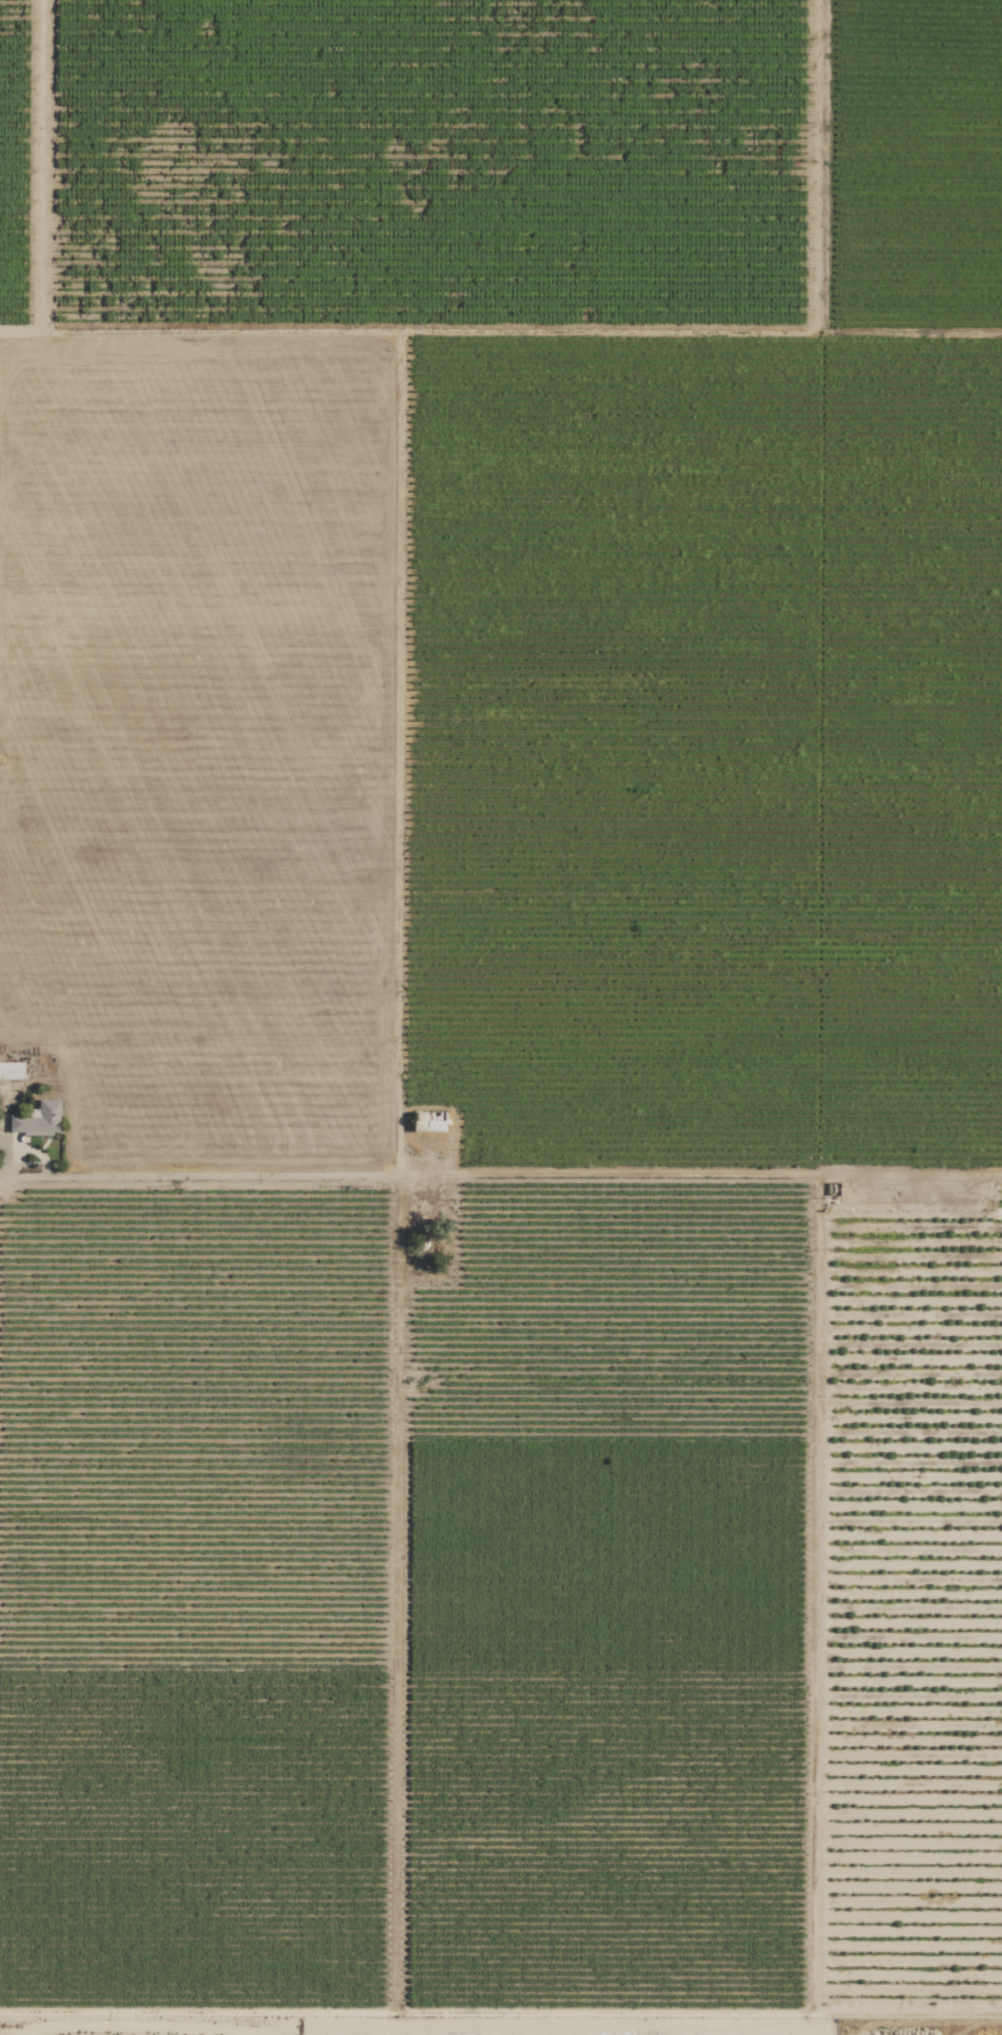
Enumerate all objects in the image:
road: (43, 186)
building: (11, 1070)
building: (37, 1119)
building: (428, 1121)
road: (196, 1174)
road: (697, 1177)
road: (395, 1790)

